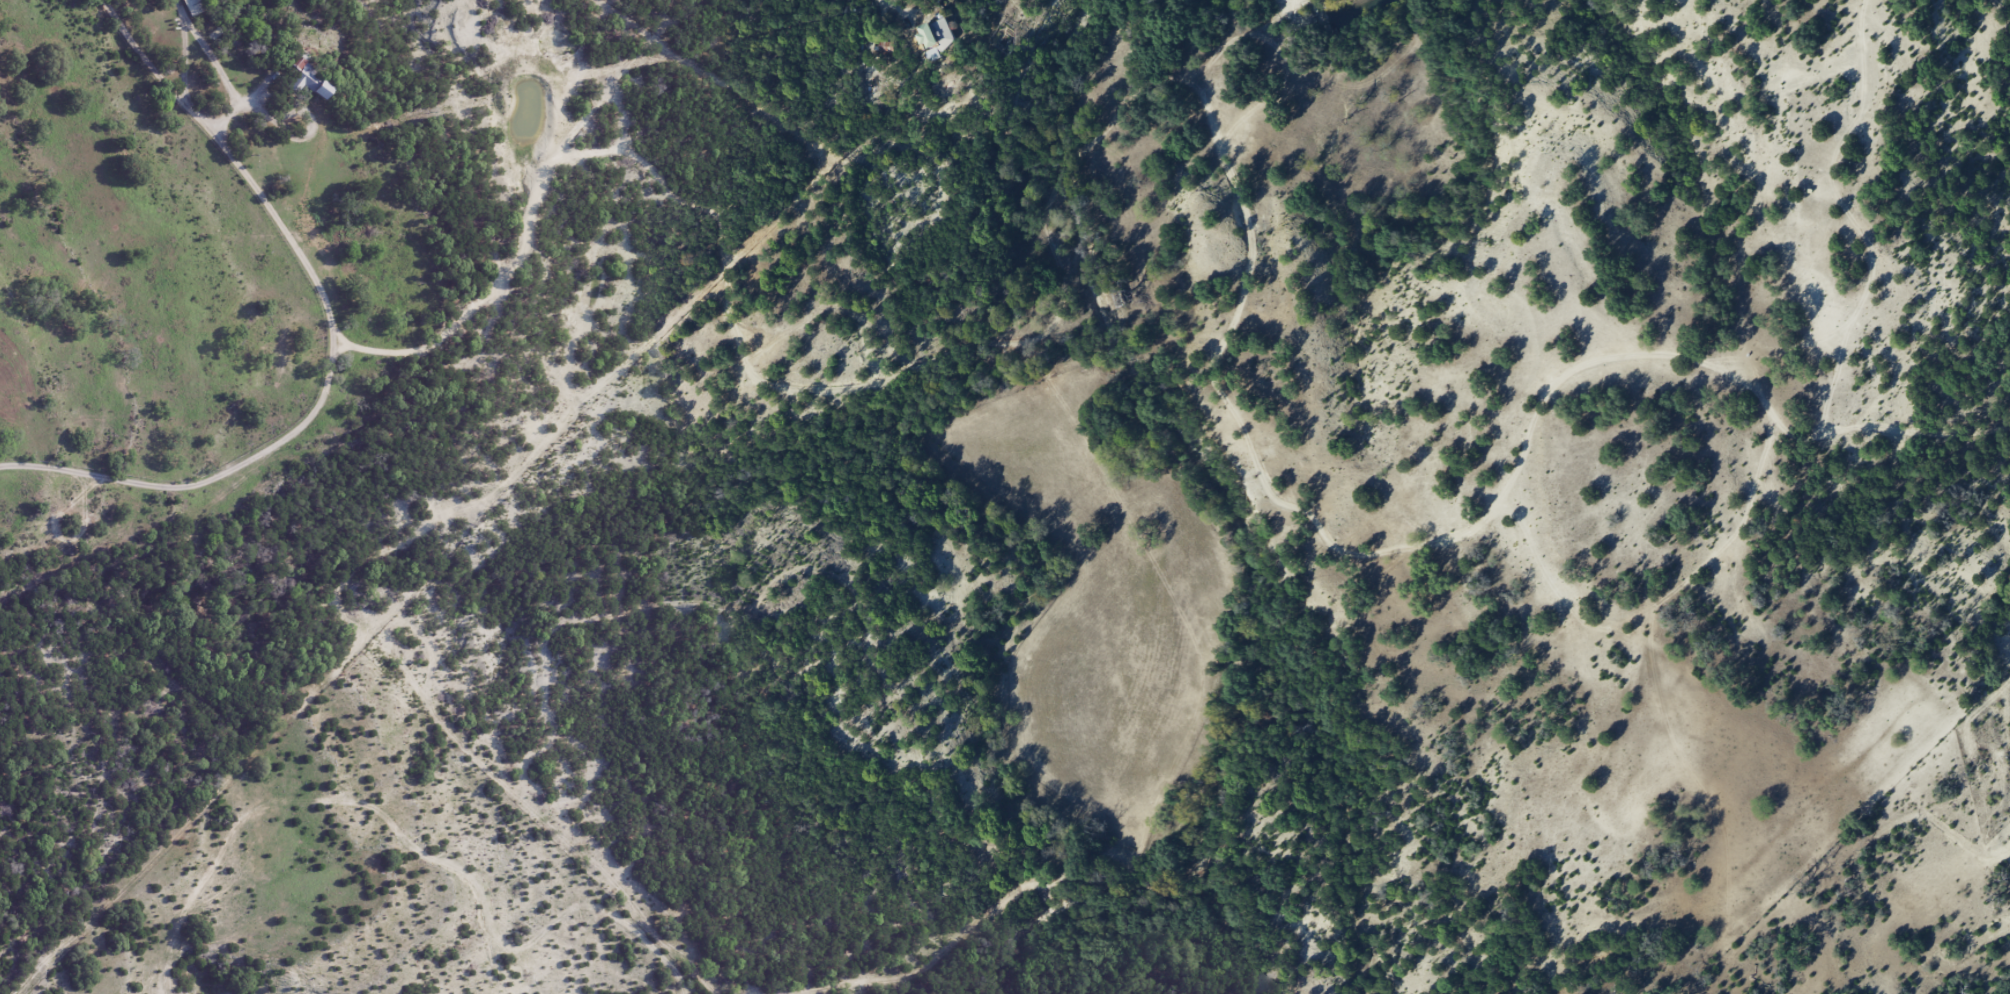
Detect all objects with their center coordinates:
building: (193, 6)
road: (666, 32)
building: (934, 37)
building: (308, 82)
road: (246, 163)
road: (538, 236)
road: (209, 483)

